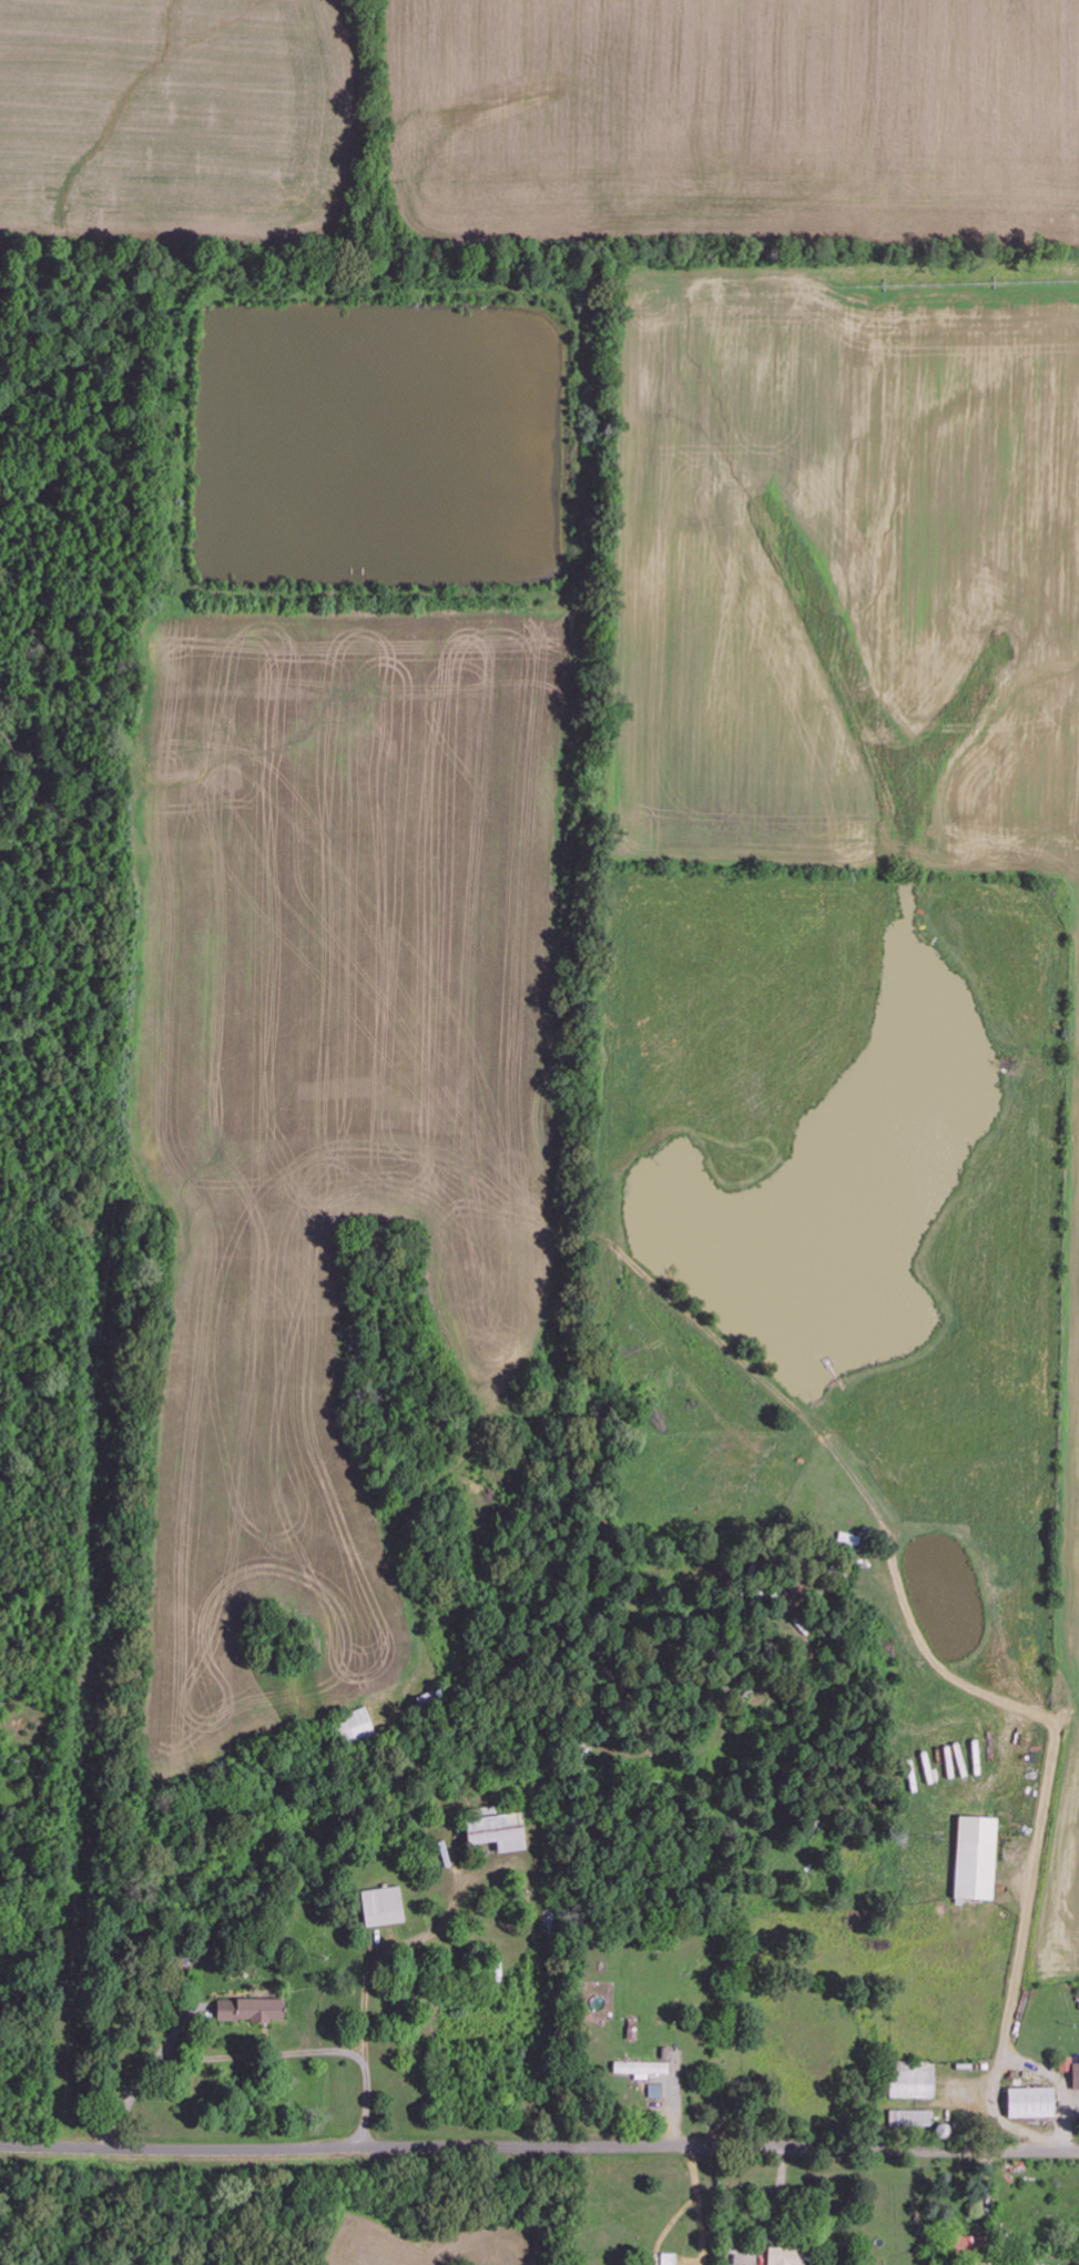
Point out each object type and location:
building: (980, 1858)
building: (384, 1906)
building: (254, 2010)
building: (644, 2068)
building: (1077, 2075)
building: (658, 2091)
building: (1036, 2102)
road: (539, 2150)
building: (791, 2256)

